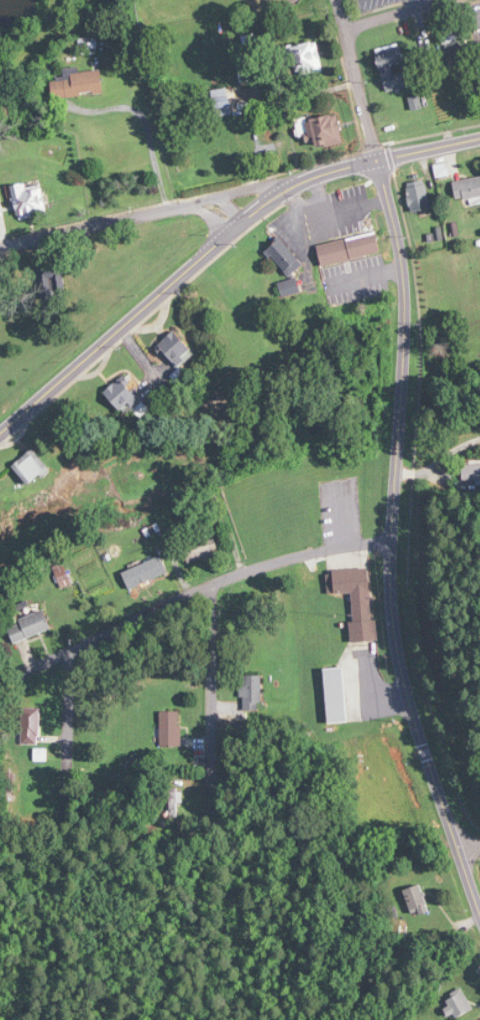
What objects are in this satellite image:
parking lot: (369, 4)
road: (378, 8)
road: (405, 15)
parking lot: (475, 21)
building: (457, 46)
building: (306, 60)
building: (396, 69)
road: (359, 81)
building: (81, 84)
building: (224, 103)
building: (333, 131)
road: (430, 150)
building: (467, 189)
building: (419, 196)
building: (33, 200)
road: (148, 213)
building: (350, 249)
building: (288, 258)
building: (59, 279)
road: (180, 281)
building: (292, 289)
building: (179, 350)
building: (127, 398)
building: (31, 466)
building: (475, 473)
road: (390, 543)
building: (204, 549)
building: (149, 572)
building: (68, 575)
building: (362, 590)
road: (196, 593)
building: (33, 627)
building: (257, 693)
building: (340, 696)
road: (216, 697)
building: (35, 726)
building: (175, 729)
road: (76, 737)
road: (468, 847)
building: (422, 900)
building: (462, 1003)
road: (478, 1018)

